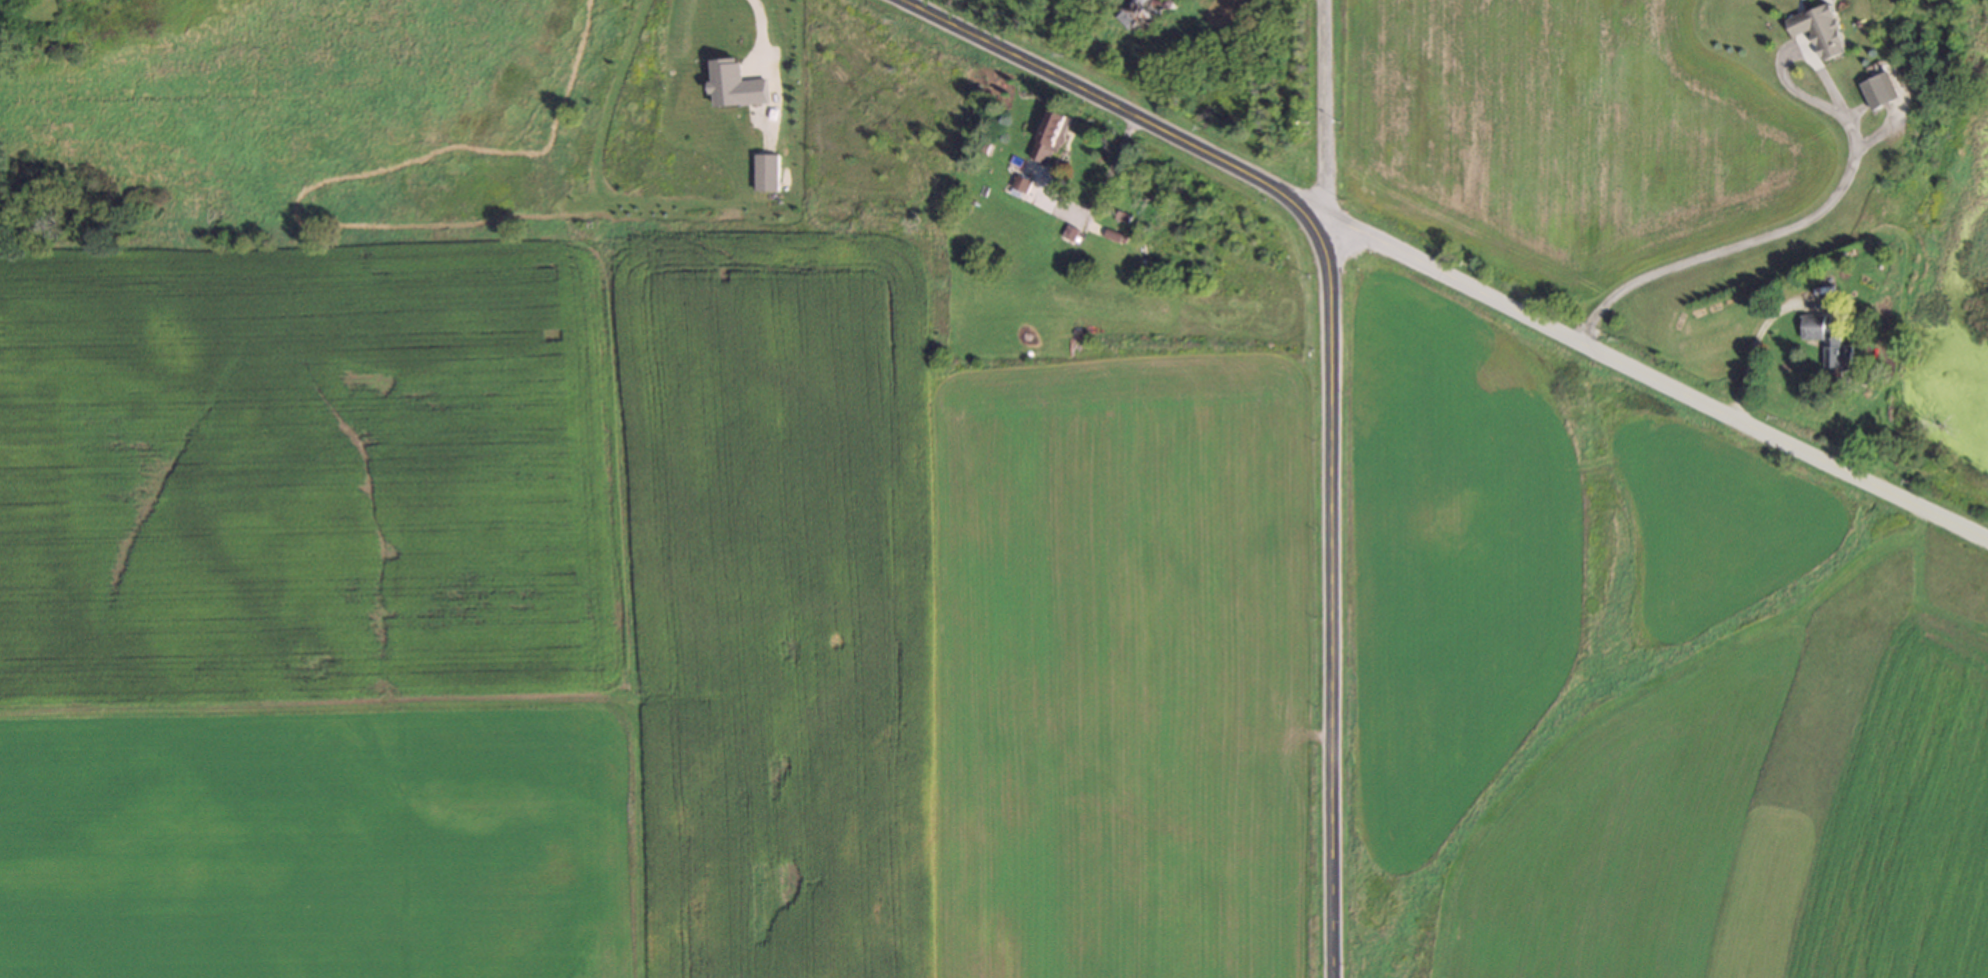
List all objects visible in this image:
building: (1253, 4)
building: (1142, 14)
building: (1820, 30)
road: (764, 31)
building: (1878, 93)
road: (1333, 110)
building: (1049, 136)
building: (767, 173)
building: (1021, 183)
road: (1790, 228)
road: (1752, 342)
building: (1827, 342)
road: (1333, 367)
road: (1654, 372)

